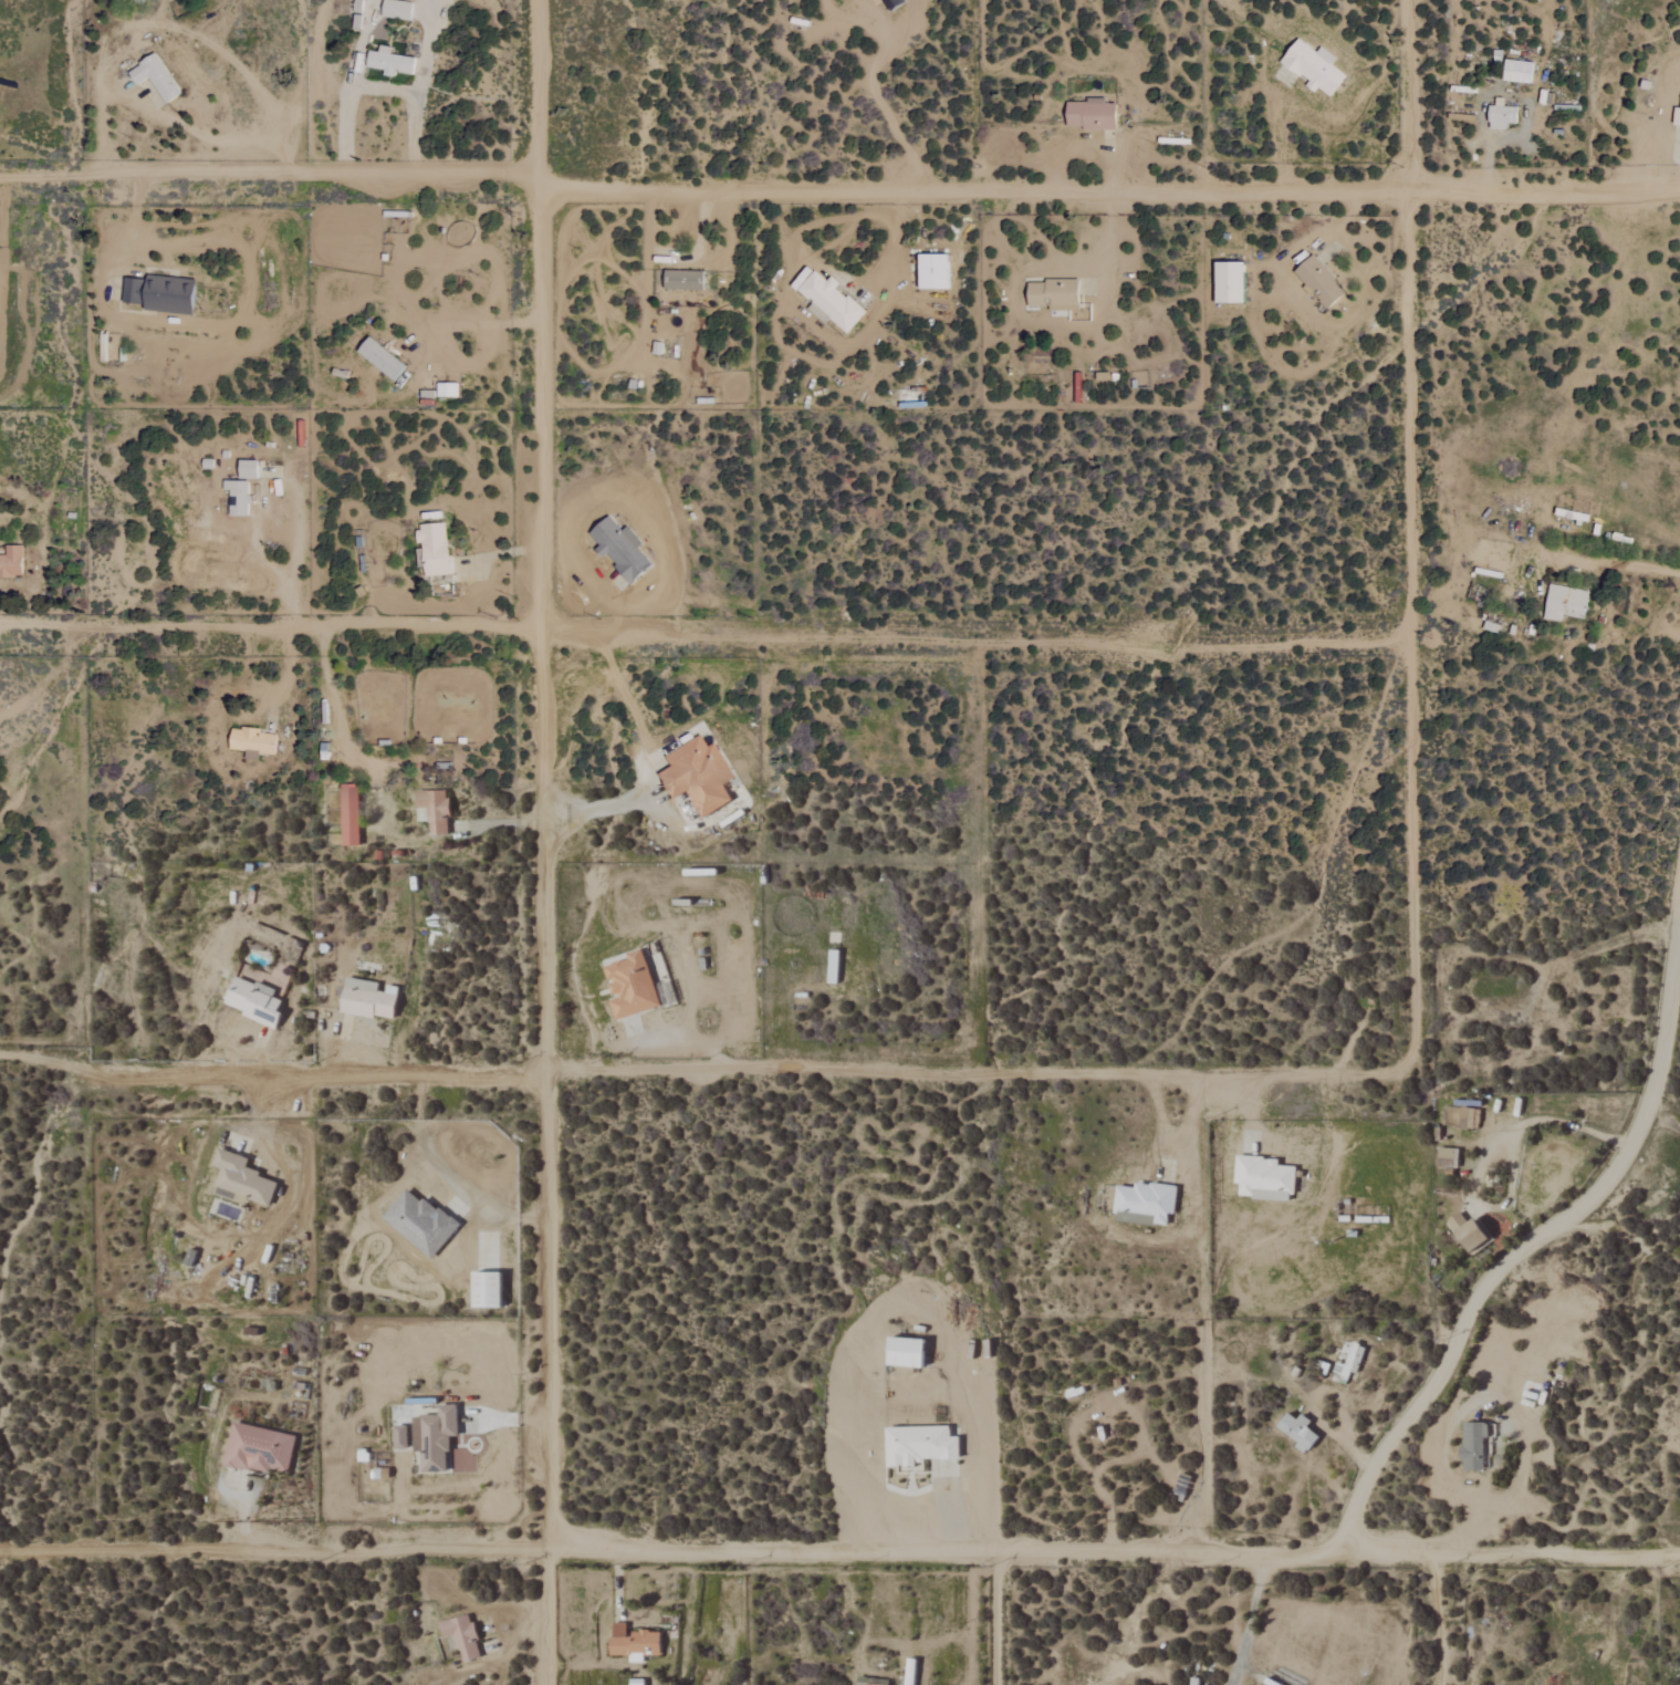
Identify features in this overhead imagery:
building: (893, 3)
building: (395, 9)
building: (387, 62)
building: (1311, 66)
building: (1515, 71)
building: (153, 76)
road: (376, 89)
road: (886, 104)
building: (1500, 115)
building: (1676, 116)
road: (234, 141)
road: (1486, 165)
road: (838, 189)
building: (929, 272)
building: (681, 280)
building: (1318, 281)
building: (1225, 283)
building: (159, 293)
building: (1051, 293)
building: (829, 301)
road: (472, 323)
building: (378, 360)
building: (446, 391)
building: (246, 469)
building: (236, 497)
road: (1407, 535)
building: (617, 549)
building: (431, 550)
building: (13, 560)
road: (1616, 561)
road: (273, 568)
building: (1564, 602)
road: (270, 626)
road: (973, 644)
road: (340, 726)
building: (251, 740)
road: (644, 765)
building: (696, 774)
building: (348, 814)
road: (543, 842)
building: (628, 986)
building: (364, 999)
building: (251, 1001)
road: (699, 1072)
road: (1663, 1113)
road: (1162, 1120)
road: (1488, 1157)
building: (1261, 1178)
building: (239, 1180)
building: (1142, 1204)
building: (418, 1221)
building: (1464, 1234)
building: (484, 1290)
road: (1481, 1297)
road: (1206, 1313)
building: (902, 1353)
building: (1295, 1431)
building: (432, 1438)
building: (918, 1445)
building: (1471, 1446)
building: (257, 1449)
road: (242, 1515)
road: (839, 1548)
road: (995, 1618)
road: (1253, 1620)
road: (1439, 1620)
building: (632, 1643)
building: (1193, 1682)

